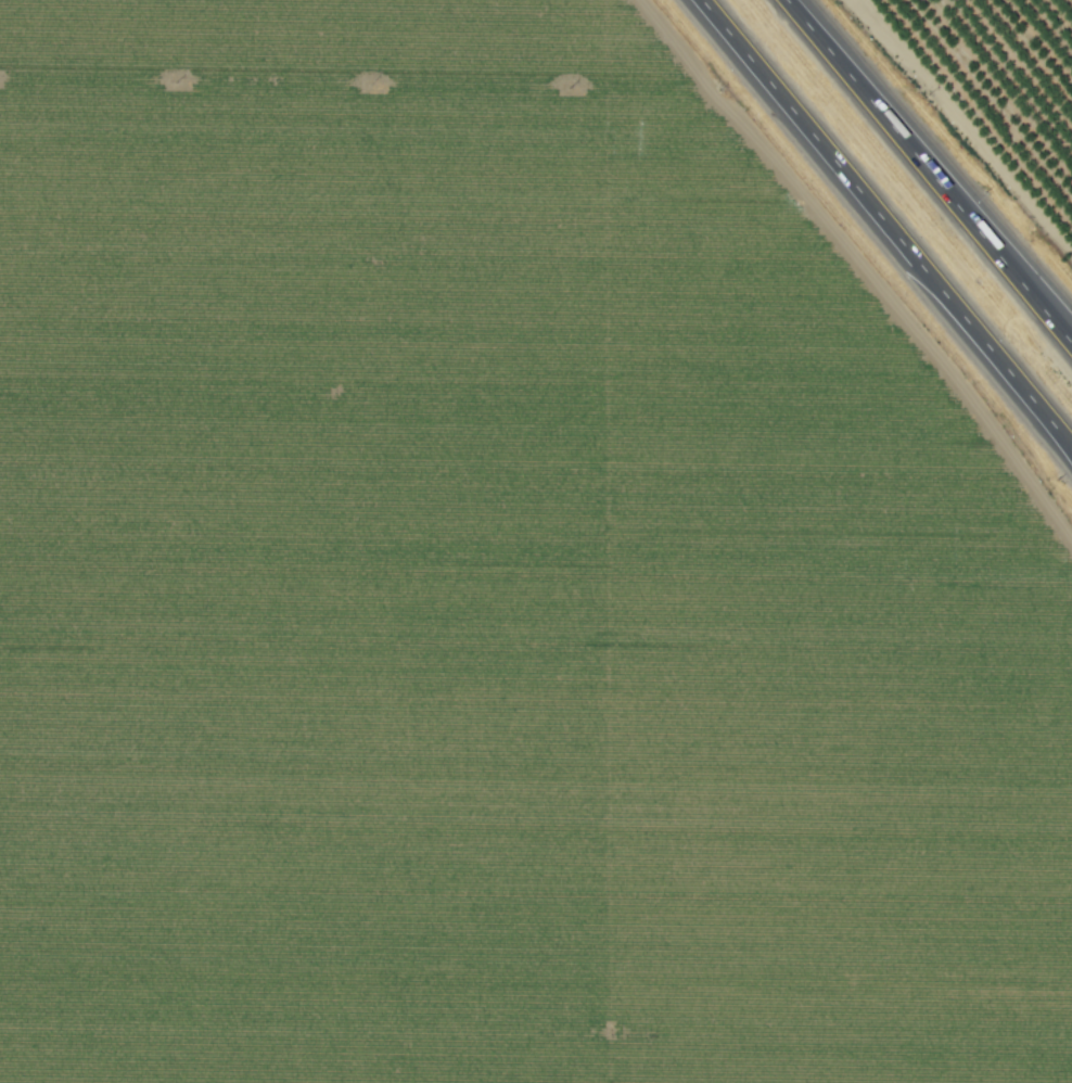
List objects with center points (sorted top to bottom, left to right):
road: (924, 167)
road: (884, 222)
road: (1068, 337)
road: (1068, 339)
road: (1071, 446)
road: (1071, 446)

